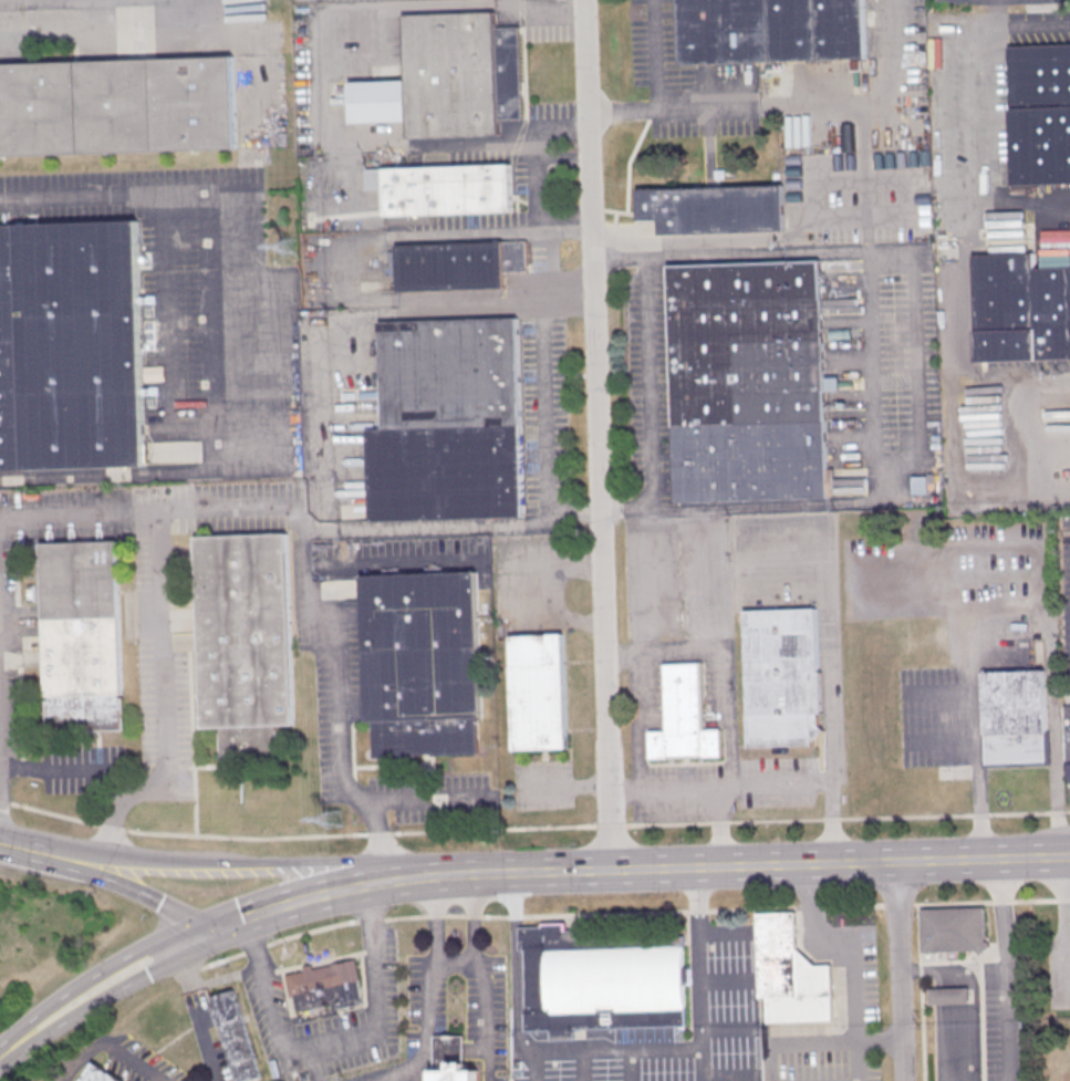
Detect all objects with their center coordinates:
parking lot: (321, 1)
parking lot: (103, 3)
road: (538, 10)
road: (319, 30)
building: (770, 30)
road: (127, 31)
road: (654, 54)
building: (448, 77)
building: (117, 105)
road: (730, 106)
building: (1039, 113)
road: (981, 118)
road: (497, 141)
building: (444, 188)
building: (711, 208)
road: (842, 215)
power tower: (289, 246)
building: (457, 264)
road: (342, 268)
road: (547, 268)
building: (1020, 309)
road: (165, 335)
road: (214, 341)
building: (70, 346)
road: (873, 371)
road: (648, 380)
building: (747, 381)
road: (921, 386)
building: (447, 422)
road: (1033, 428)
road: (543, 430)
road: (596, 434)
building: (920, 484)
road: (77, 517)
road: (650, 520)
road: (810, 544)
road: (395, 561)
road: (1010, 585)
building: (82, 635)
building: (245, 640)
road: (160, 642)
building: (422, 662)
road: (321, 663)
building: (782, 677)
road: (727, 682)
road: (939, 690)
building: (538, 692)
building: (684, 716)
building: (1017, 718)
building: (1068, 731)
road: (635, 739)
road: (942, 740)
road: (59, 768)
road: (735, 788)
road: (403, 799)
road: (1029, 812)
road: (979, 814)
power tower: (332, 818)
road: (798, 819)
road: (610, 825)
road: (723, 827)
road: (495, 831)
road: (181, 836)
road: (381, 838)
road: (19, 848)
road: (238, 863)
road: (754, 864)
road: (125, 884)
road: (321, 894)
road: (946, 903)
road: (809, 907)
road: (751, 908)
road: (697, 911)
road: (604, 914)
road: (436, 915)
road: (455, 915)
road: (474, 916)
road: (496, 916)
road: (516, 916)
road: (405, 917)
road: (371, 921)
traffic signals: (208, 931)
road: (311, 931)
road: (725, 931)
building: (954, 931)
park: (45, 943)
road: (254, 948)
road: (698, 956)
road: (221, 960)
road: (517, 960)
road: (456, 962)
road: (852, 962)
road: (1005, 969)
road: (900, 970)
road: (193, 973)
building: (791, 975)
road: (482, 976)
road: (726, 980)
building: (600, 981)
road: (435, 984)
road: (100, 985)
building: (325, 986)
road: (202, 987)
building: (949, 997)
road: (726, 1027)
building: (237, 1036)
road: (813, 1041)
road: (208, 1047)
road: (110, 1048)
road: (335, 1049)
road: (610, 1049)
building: (451, 1060)
road: (700, 1063)
road: (581, 1064)
road: (627, 1064)
road: (536, 1066)
building: (101, 1075)
road: (727, 1075)
road: (420, 1079)

